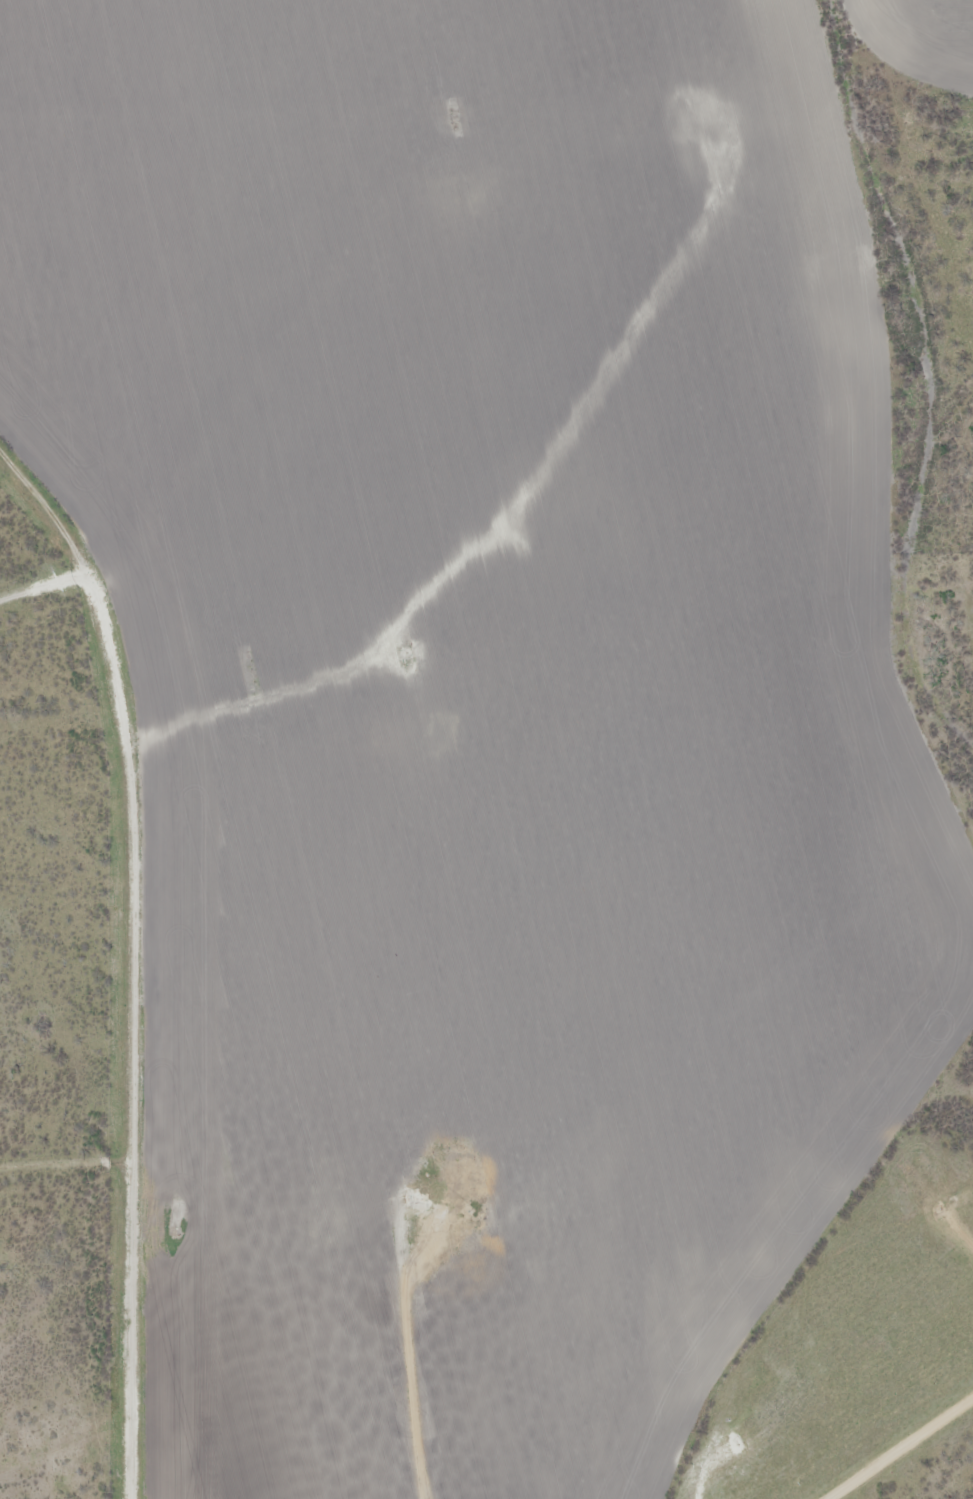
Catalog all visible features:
road: (43, 521)
road: (109, 1005)
road: (889, 1435)

